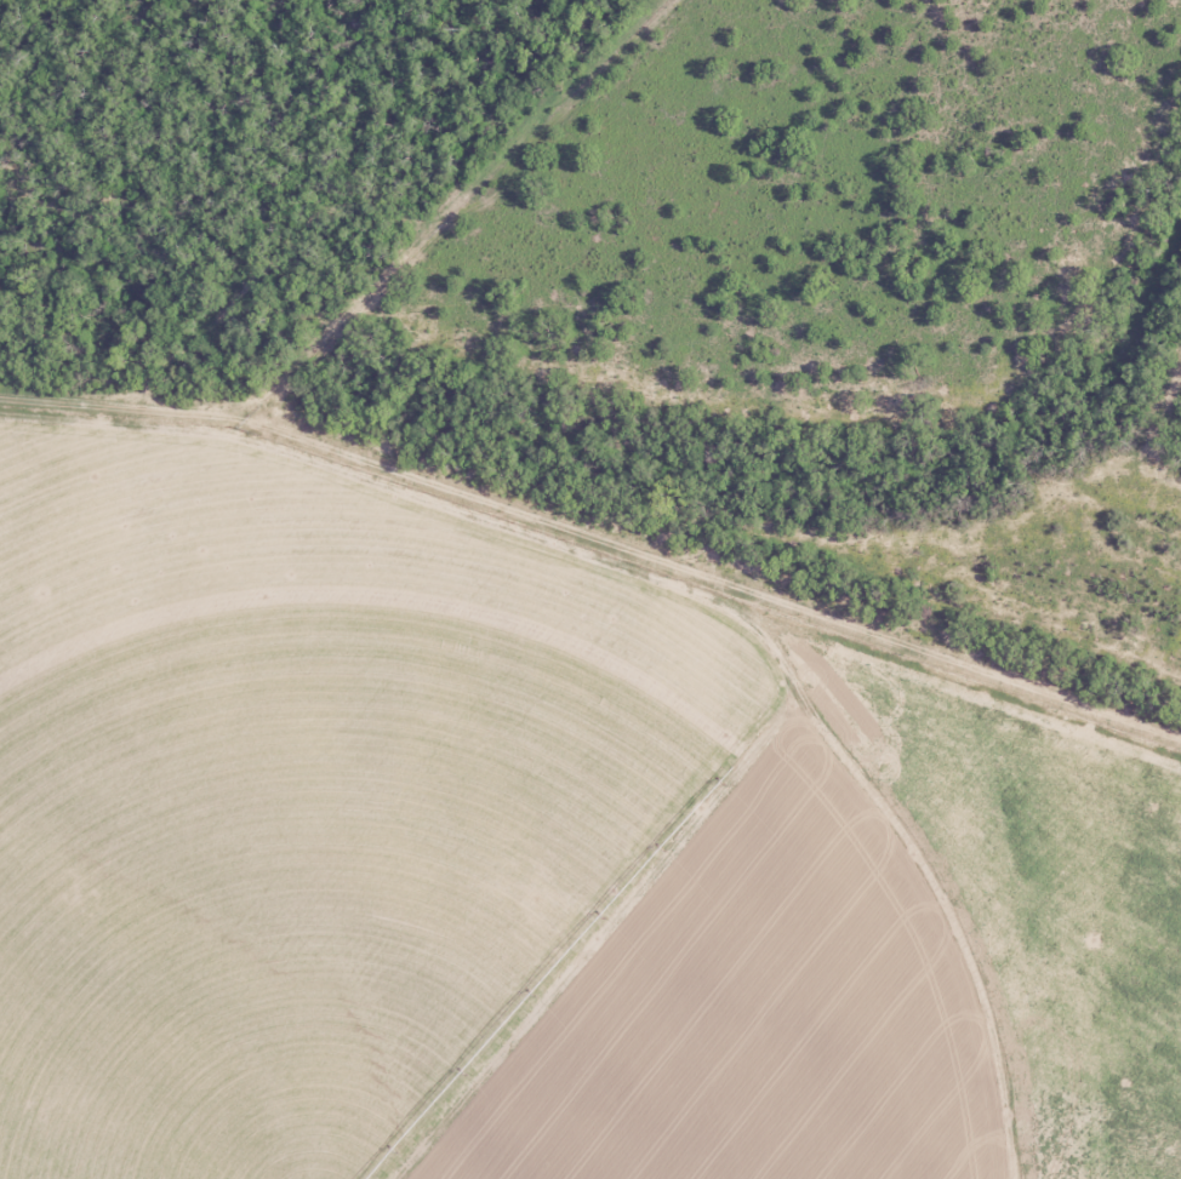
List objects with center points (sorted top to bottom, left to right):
road: (540, 460)

